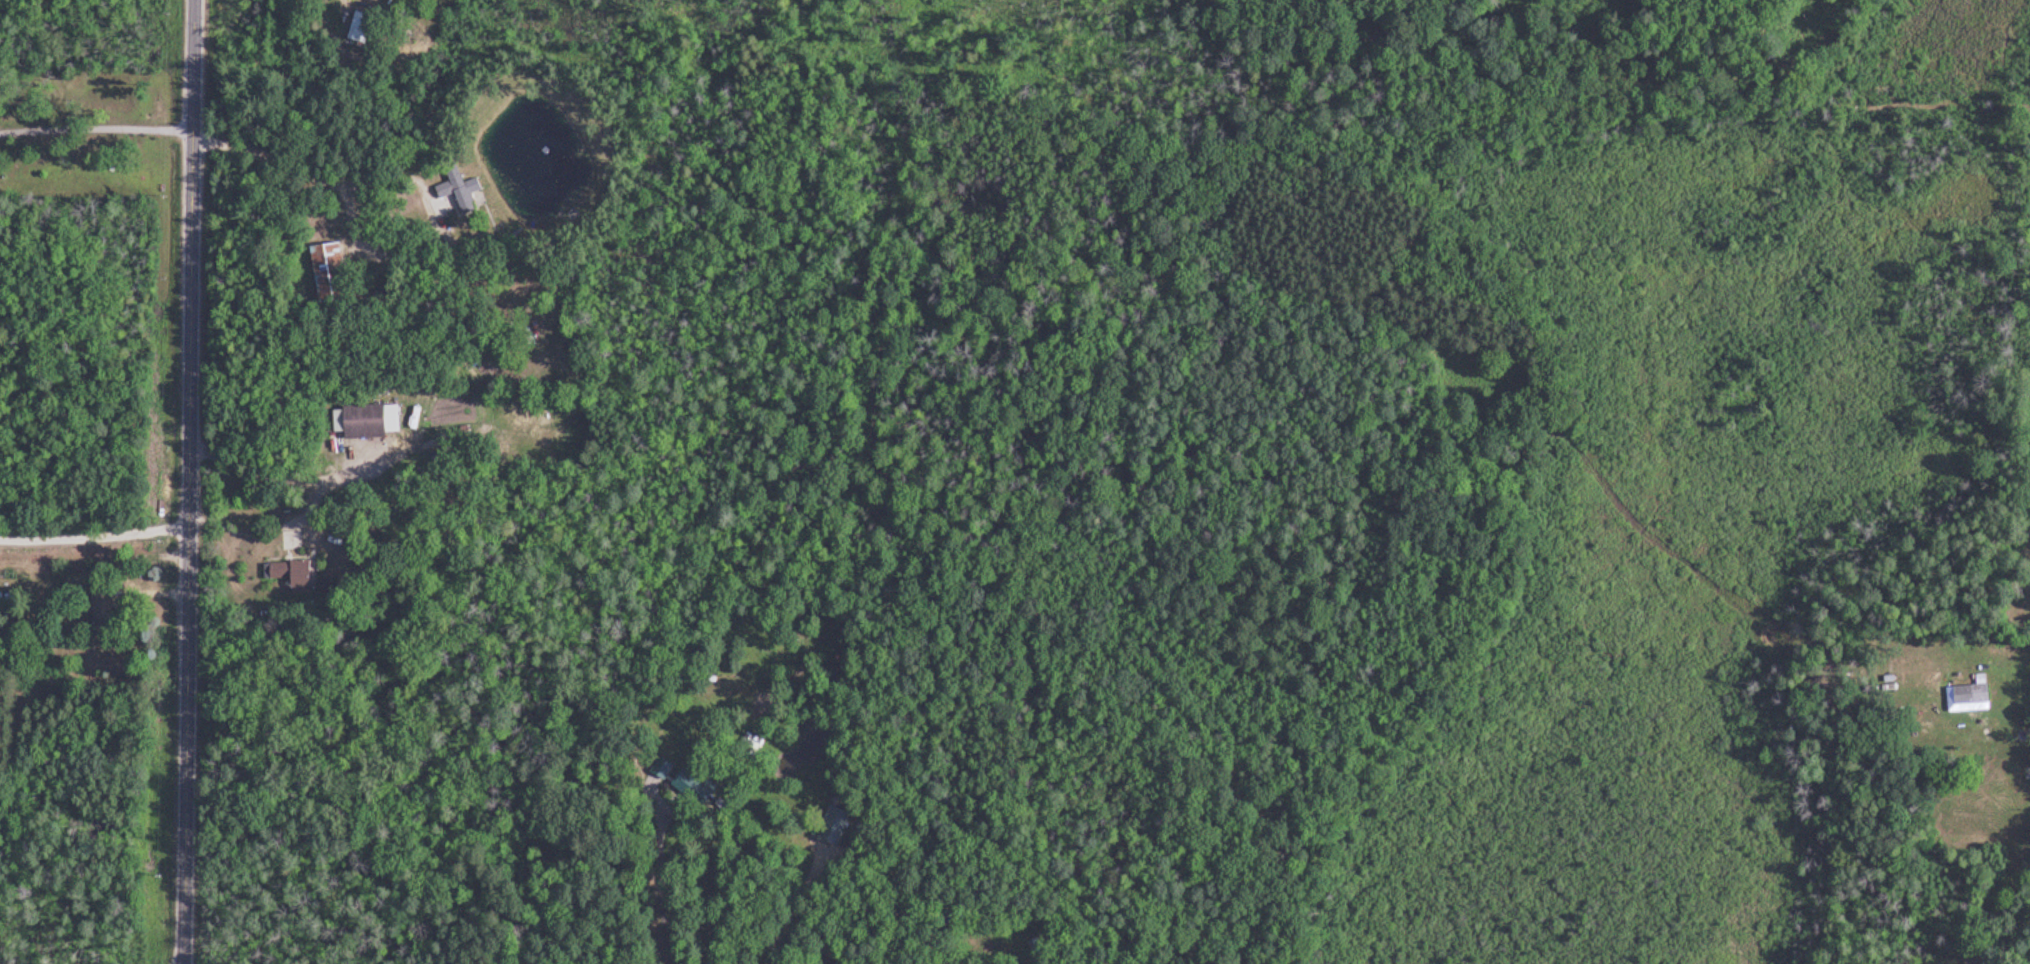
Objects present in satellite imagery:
building: (363, 28)
road: (97, 126)
building: (463, 190)
road: (361, 235)
building: (332, 273)
building: (374, 420)
road: (191, 482)
road: (95, 537)
building: (295, 574)
building: (110, 610)
building: (1975, 692)
building: (765, 706)

